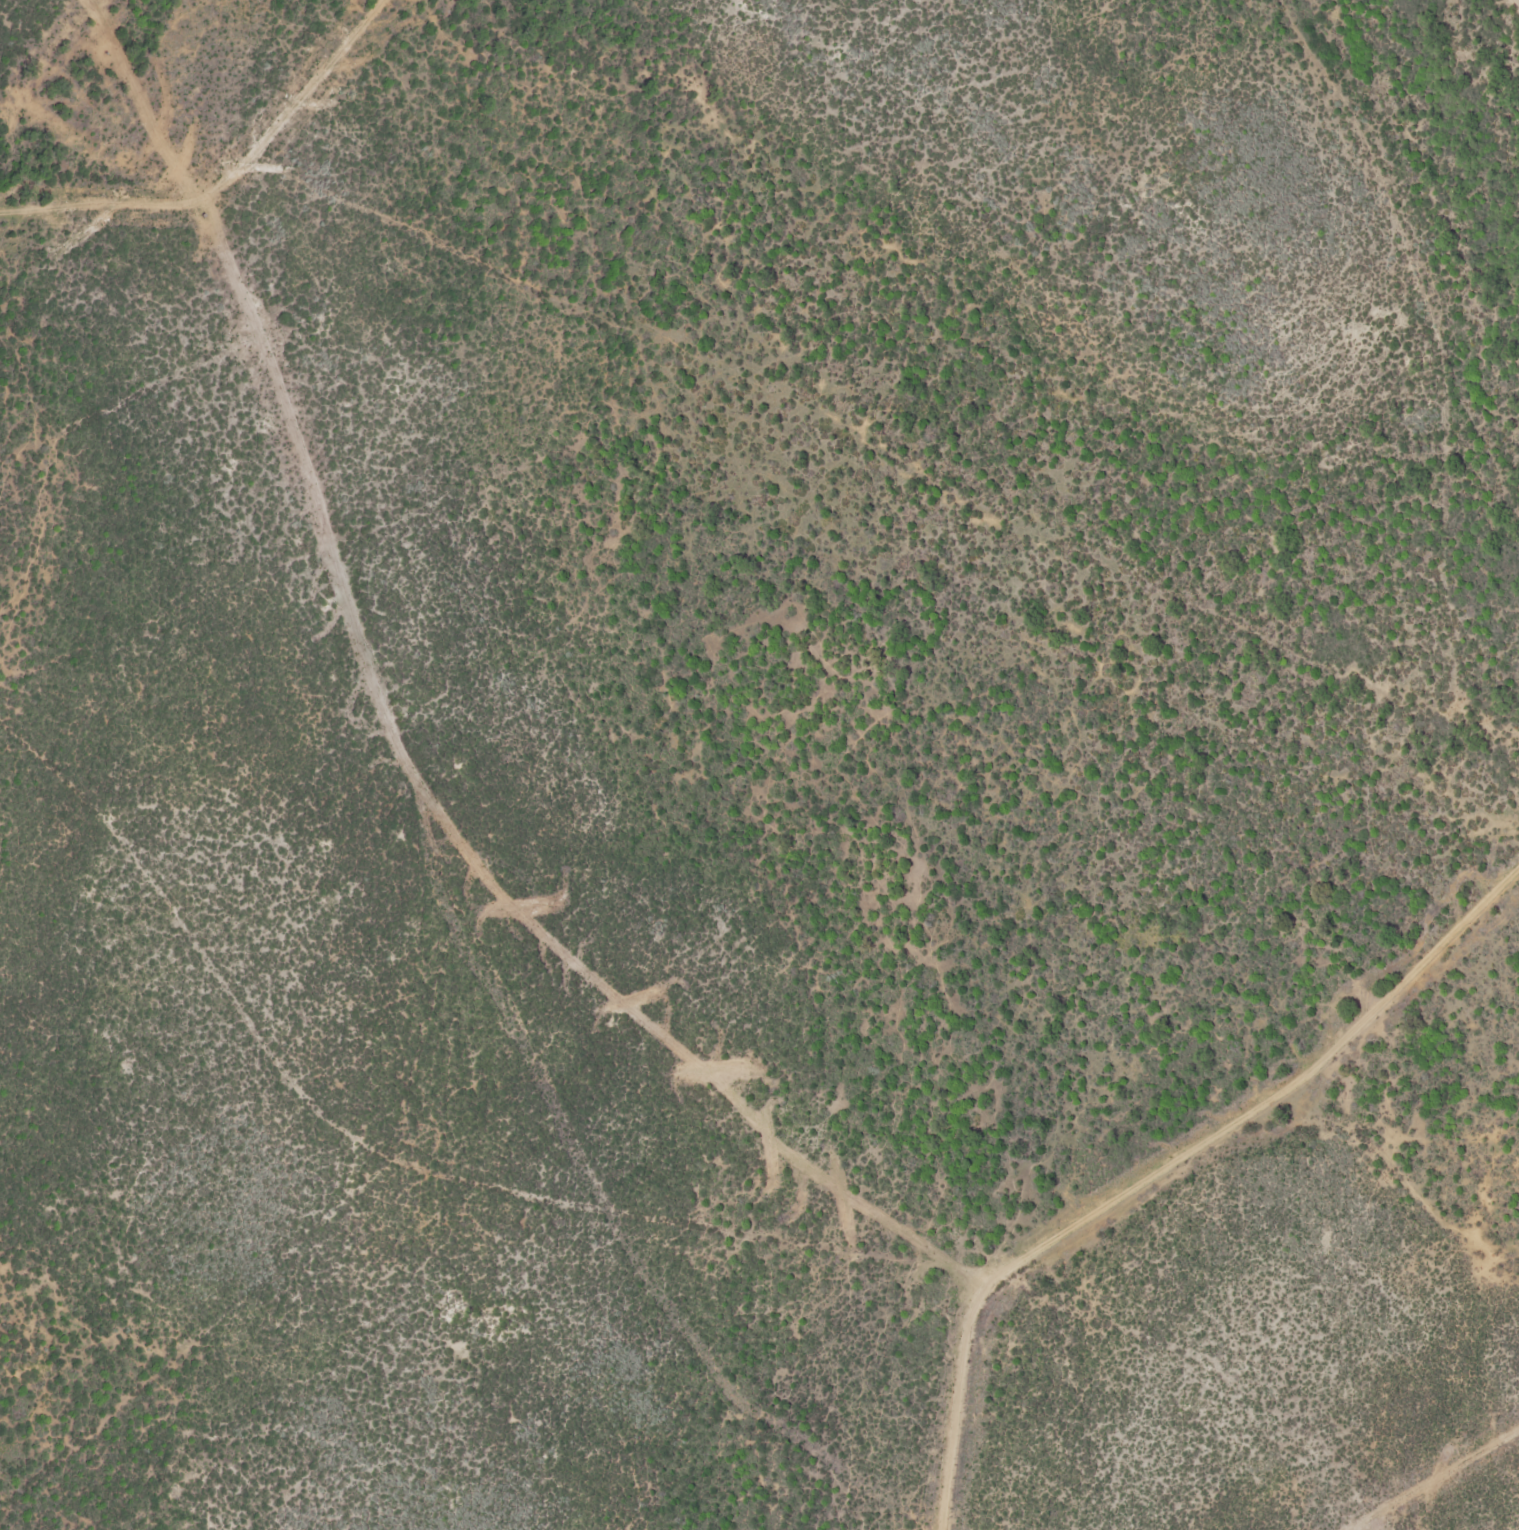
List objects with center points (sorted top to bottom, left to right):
road: (1517, 1)
road: (698, 1225)
road: (959, 1398)

